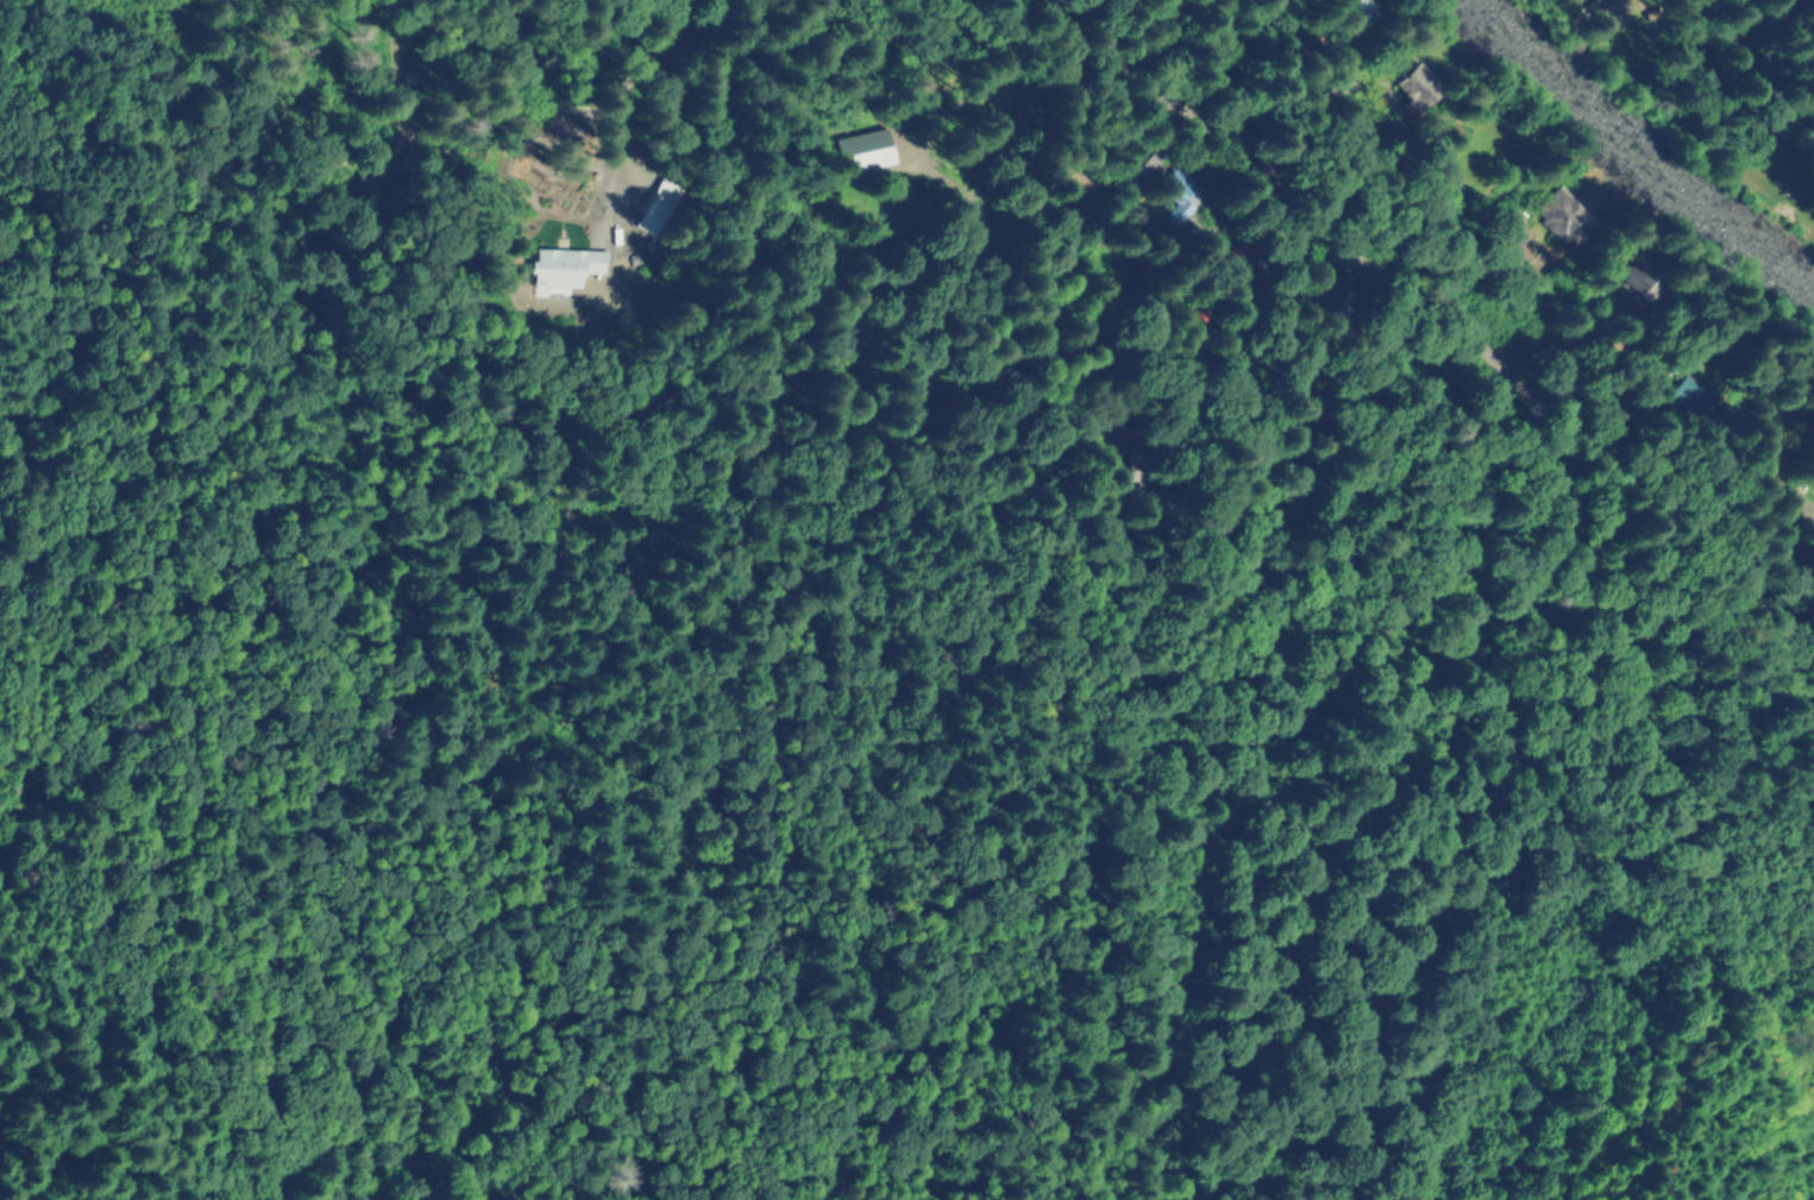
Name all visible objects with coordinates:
building: (1352, 13)
building: (1600, 14)
building: (1417, 83)
building: (871, 147)
building: (1395, 149)
river: (1634, 156)
building: (1452, 194)
building: (1173, 199)
building: (658, 207)
building: (1563, 218)
building: (1513, 235)
building: (575, 265)
building: (1640, 279)
building: (1345, 301)
building: (1645, 310)
building: (1213, 312)
road: (1452, 313)
road: (1230, 348)
building: (1697, 398)
building: (1778, 425)
building: (1163, 465)
building: (1813, 471)
road: (1776, 495)

